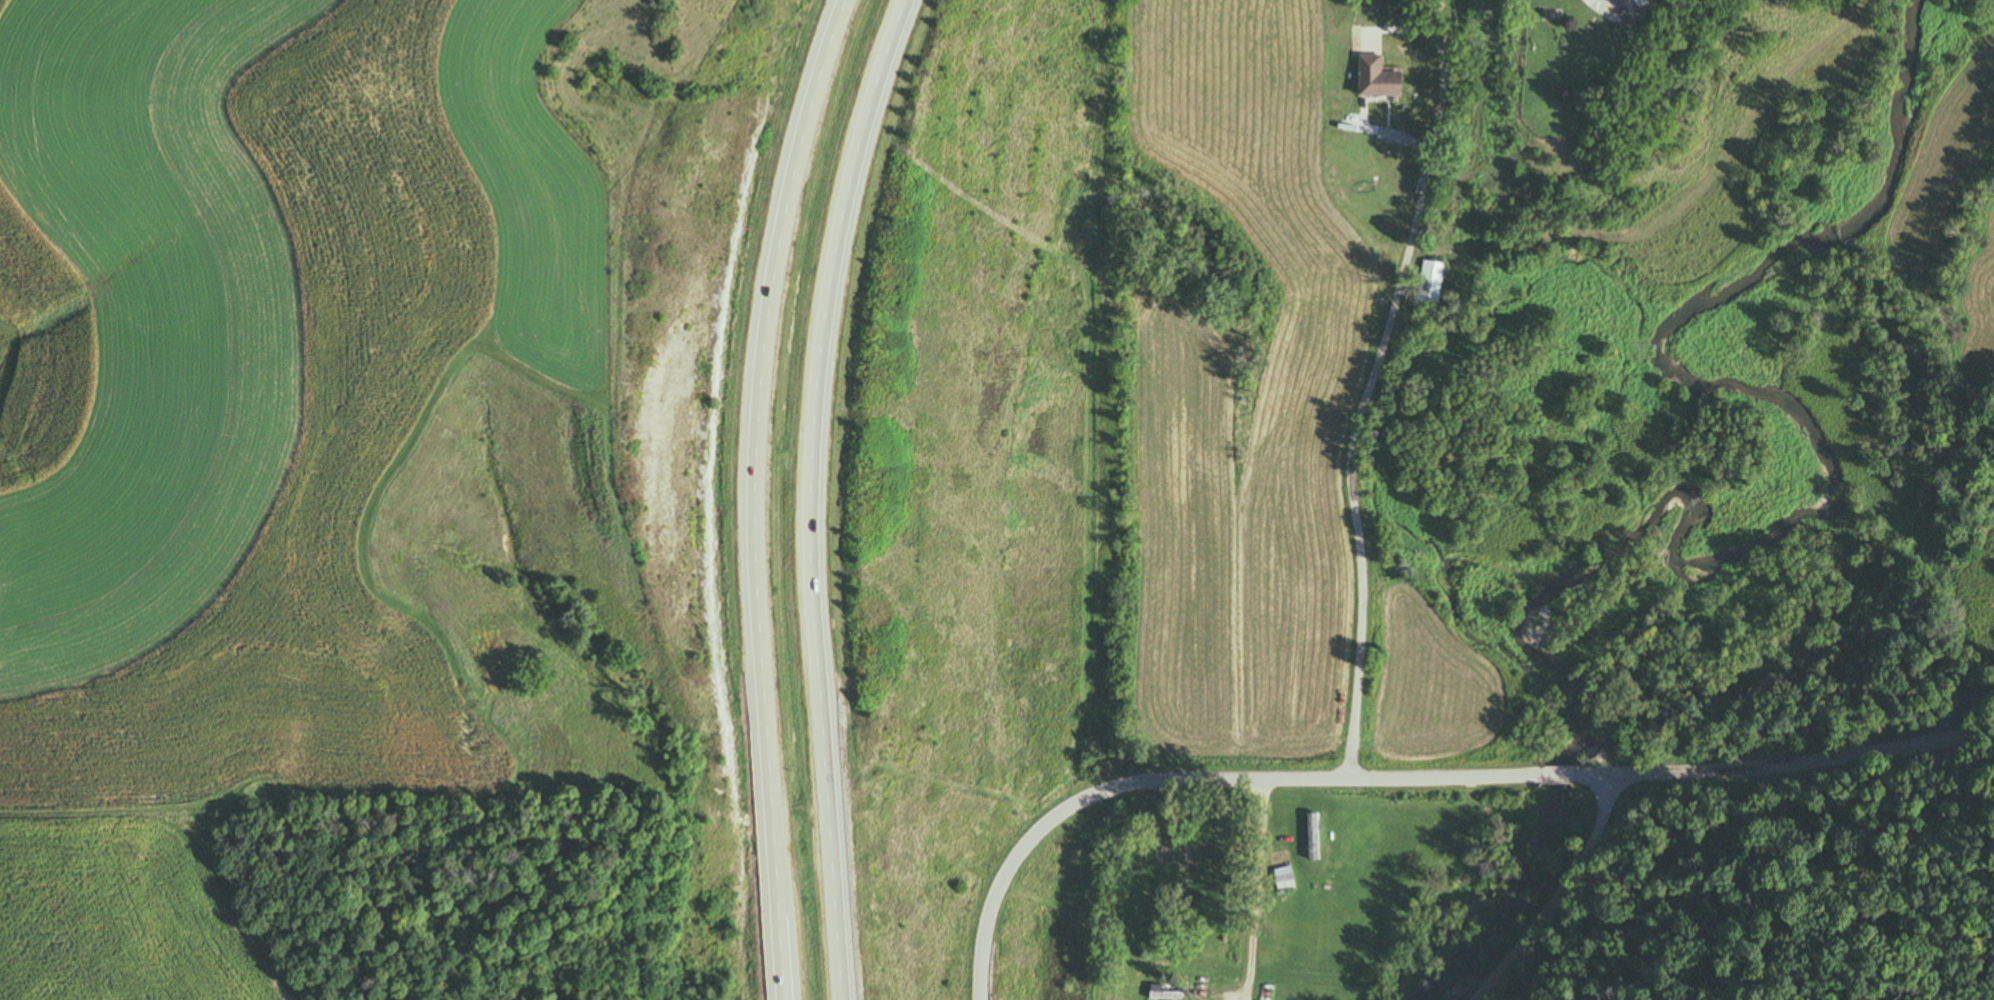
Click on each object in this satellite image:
road: (1604, 4)
road: (1421, 35)
building: (1367, 77)
building: (1389, 139)
building: (1424, 282)
road: (1358, 405)
road: (807, 494)
road: (751, 495)
road: (1955, 715)
road: (1416, 780)
building: (1314, 837)
building: (1286, 877)
road: (1531, 882)
road: (1253, 889)
building: (1164, 992)

